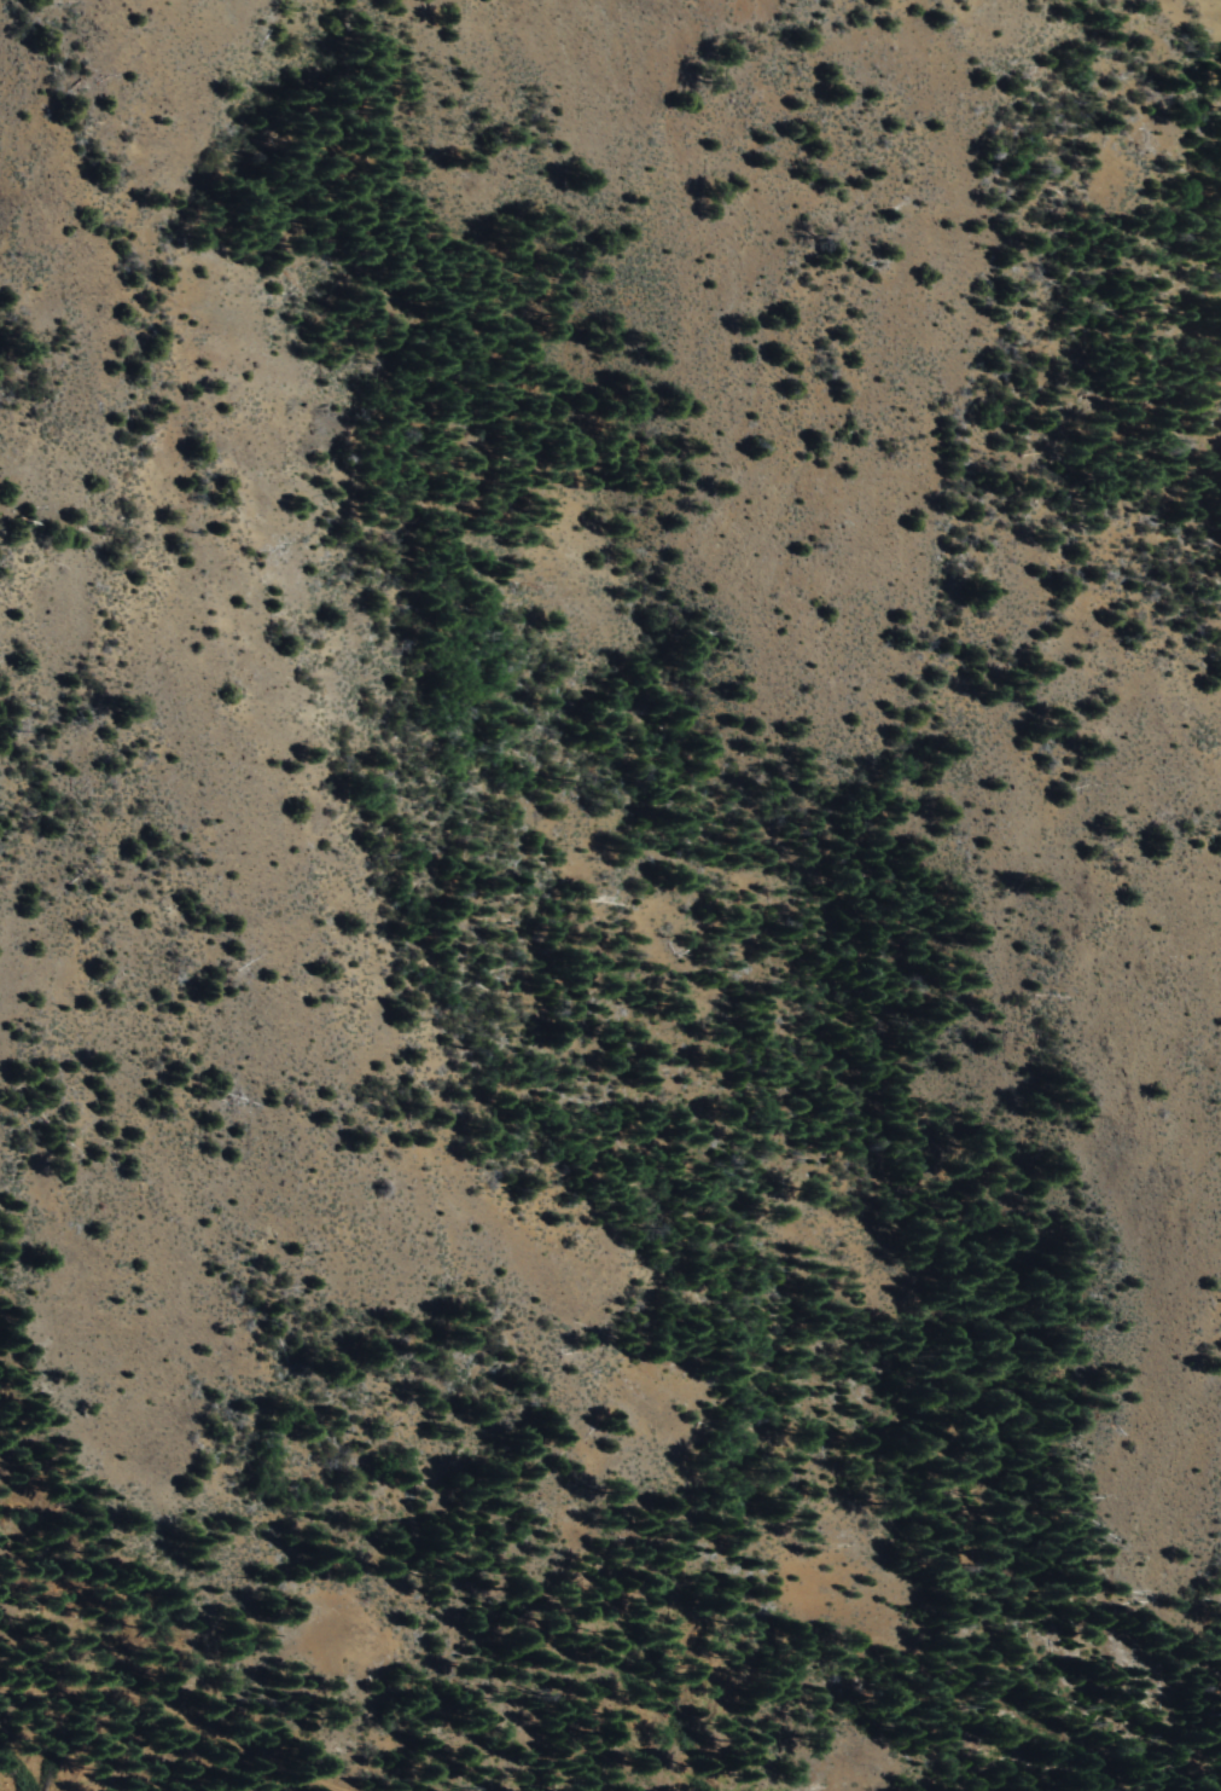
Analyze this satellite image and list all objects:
road: (180, 1715)

